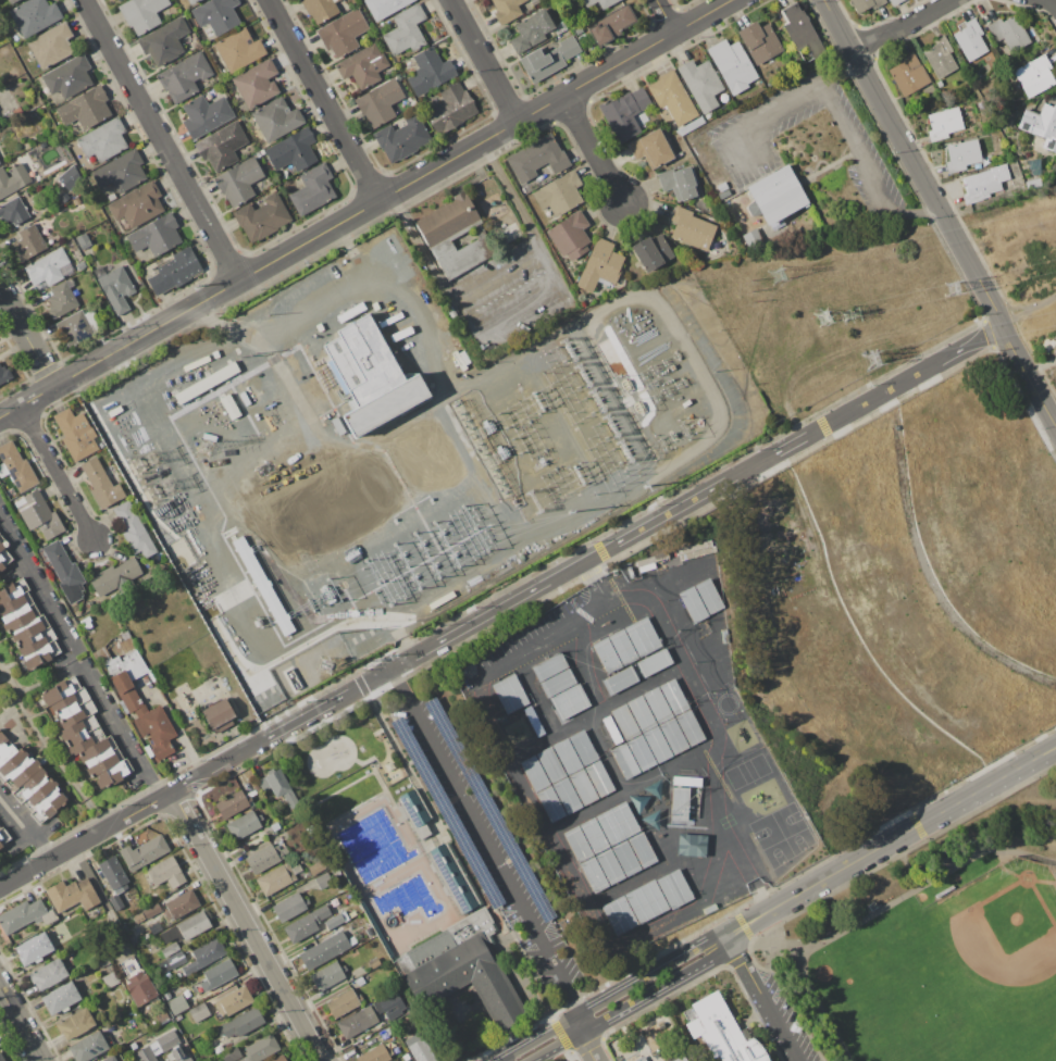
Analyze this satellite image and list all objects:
building: (114, 0)
building: (119, 0)
building: (12, 1)
building: (191, 1)
building: (535, 1)
building: (895, 1)
road: (1051, 2)
building: (604, 4)
building: (867, 4)
building: (385, 8)
building: (319, 9)
building: (507, 10)
building: (141, 13)
building: (216, 14)
building: (34, 15)
road: (664, 16)
building: (612, 24)
road: (904, 26)
building: (532, 29)
building: (560, 29)
building: (406, 30)
building: (802, 30)
building: (579, 32)
building: (343, 33)
building: (1010, 33)
building: (1049, 34)
building: (969, 39)
building: (164, 42)
building: (759, 42)
building: (51, 45)
building: (238, 49)
building: (940, 57)
building: (548, 59)
road: (483, 61)
building: (733, 65)
building: (363, 66)
building: (430, 71)
road: (840, 73)
building: (908, 74)
building: (1034, 75)
building: (67, 77)
building: (184, 77)
building: (257, 84)
building: (700, 84)
building: (939, 84)
building: (672, 97)
road: (323, 100)
building: (378, 102)
building: (85, 108)
building: (451, 109)
road: (779, 111)
building: (624, 113)
building: (206, 115)
building: (709, 115)
building: (276, 118)
building: (944, 123)
building: (1041, 124)
building: (402, 138)
building: (103, 140)
road: (161, 140)
building: (222, 145)
building: (999, 146)
building: (650, 148)
road: (855, 149)
building: (293, 150)
road: (593, 150)
building: (258, 154)
building: (962, 154)
building: (537, 159)
building: (986, 161)
building: (121, 172)
building: (285, 172)
building: (69, 177)
building: (13, 179)
building: (238, 183)
building: (678, 183)
building: (983, 184)
building: (1033, 184)
building: (722, 187)
building: (313, 189)
building: (559, 194)
building: (724, 195)
building: (773, 195)
building: (111, 197)
building: (32, 201)
building: (138, 205)
road: (365, 209)
building: (13, 211)
road: (914, 211)
road: (942, 213)
building: (262, 217)
building: (447, 220)
building: (778, 224)
building: (691, 228)
building: (45, 230)
building: (156, 235)
building: (569, 236)
building: (58, 238)
building: (751, 238)
building: (83, 240)
building: (29, 241)
building: (50, 241)
building: (651, 252)
building: (80, 265)
building: (600, 266)
building: (109, 269)
building: (48, 270)
building: (175, 270)
road: (494, 271)
power tower: (779, 274)
building: (114, 287)
power tower: (953, 288)
building: (61, 300)
building: (100, 308)
building: (451, 311)
road: (1028, 312)
road: (520, 313)
power tower: (821, 317)
building: (79, 327)
road: (27, 336)
building: (487, 344)
building: (482, 347)
power tower: (872, 360)
building: (4, 374)
power tower: (584, 374)
building: (371, 376)
building: (134, 397)
building: (142, 405)
power tower: (616, 424)
building: (76, 434)
power substation: (475, 434)
power tower: (201, 447)
building: (15, 466)
road: (57, 473)
building: (102, 483)
building: (12, 491)
building: (38, 513)
building: (133, 529)
building: (2, 542)
building: (694, 548)
building: (697, 553)
building: (216, 556)
building: (4, 558)
road: (588, 559)
building: (650, 561)
building: (65, 573)
building: (113, 576)
road: (35, 584)
building: (12, 590)
road: (633, 596)
building: (709, 596)
building: (694, 604)
building: (16, 612)
building: (680, 612)
building: (86, 622)
building: (32, 635)
building: (125, 635)
building: (724, 636)
building: (643, 637)
building: (697, 641)
building: (622, 647)
building: (38, 656)
building: (101, 656)
building: (607, 656)
building: (654, 663)
building: (126, 664)
power tower: (324, 665)
building: (548, 666)
building: (619, 681)
building: (121, 682)
building: (558, 683)
building: (55, 692)
building: (673, 696)
building: (131, 700)
building: (570, 701)
building: (657, 704)
building: (71, 708)
building: (518, 709)
building: (140, 711)
building: (641, 714)
building: (219, 715)
building: (624, 722)
building: (156, 726)
building: (689, 727)
building: (611, 731)
road: (122, 733)
building: (80, 735)
building: (673, 736)
building: (657, 745)
building: (583, 748)
building: (5, 749)
building: (162, 750)
building: (148, 751)
building: (641, 752)
building: (99, 757)
building: (567, 757)
building: (624, 761)
building: (550, 764)
building: (389, 765)
building: (18, 767)
building: (534, 773)
building: (110, 774)
building: (599, 778)
building: (686, 781)
building: (582, 787)
building: (36, 788)
building: (281, 788)
road: (520, 788)
building: (654, 789)
road: (169, 794)
building: (567, 796)
building: (638, 802)
building: (680, 802)
building: (232, 803)
building: (551, 804)
building: (48, 807)
building: (413, 807)
building: (488, 809)
building: (446, 812)
building: (653, 819)
building: (617, 823)
building: (244, 824)
road: (26, 826)
building: (275, 827)
building: (593, 835)
building: (3, 836)
road: (80, 841)
road: (891, 841)
parking lot: (485, 842)
road: (487, 842)
building: (577, 844)
building: (691, 845)
building: (642, 850)
building: (144, 852)
building: (266, 858)
building: (625, 858)
building: (609, 866)
building: (315, 867)
building: (165, 872)
building: (335, 872)
building: (113, 874)
building: (593, 875)
building: (277, 877)
building: (452, 877)
building: (323, 881)
building: (337, 886)
building: (674, 888)
building: (944, 890)
building: (72, 895)
building: (115, 901)
building: (646, 901)
building: (181, 906)
building: (872, 906)
building: (290, 907)
building: (709, 909)
building: (151, 911)
building: (25, 915)
building: (619, 915)
building: (139, 918)
road: (873, 918)
building: (334, 921)
road: (247, 925)
building: (305, 925)
building: (154, 927)
building: (187, 928)
park: (942, 946)
building: (34, 949)
building: (170, 949)
road: (763, 949)
building: (324, 951)
building: (204, 956)
building: (172, 961)
building: (374, 963)
building: (462, 968)
park: (956, 972)
building: (47, 974)
building: (218, 974)
building: (327, 975)
building: (111, 979)
building: (361, 979)
building: (140, 987)
building: (167, 995)
road: (612, 997)
building: (60, 998)
road: (762, 999)
building: (234, 1001)
road: (630, 1001)
building: (343, 1002)
building: (177, 1003)
building: (198, 1011)
building: (394, 1012)
building: (161, 1016)
building: (177, 1018)
building: (75, 1023)
building: (357, 1023)
building: (241, 1024)
road: (20, 1025)
building: (199, 1025)
road: (576, 1025)
building: (718, 1034)
building: (655, 1037)
building: (109, 1040)
road: (586, 1046)
building: (88, 1047)
building: (156, 1047)
building: (215, 1047)
building: (260, 1049)
building: (420, 1050)
building: (231, 1053)
building: (381, 1053)
building: (177, 1056)
building: (406, 1057)
building: (1, 1058)
building: (114, 1058)
building: (278, 1058)
building: (618, 1058)
building: (641, 1059)

